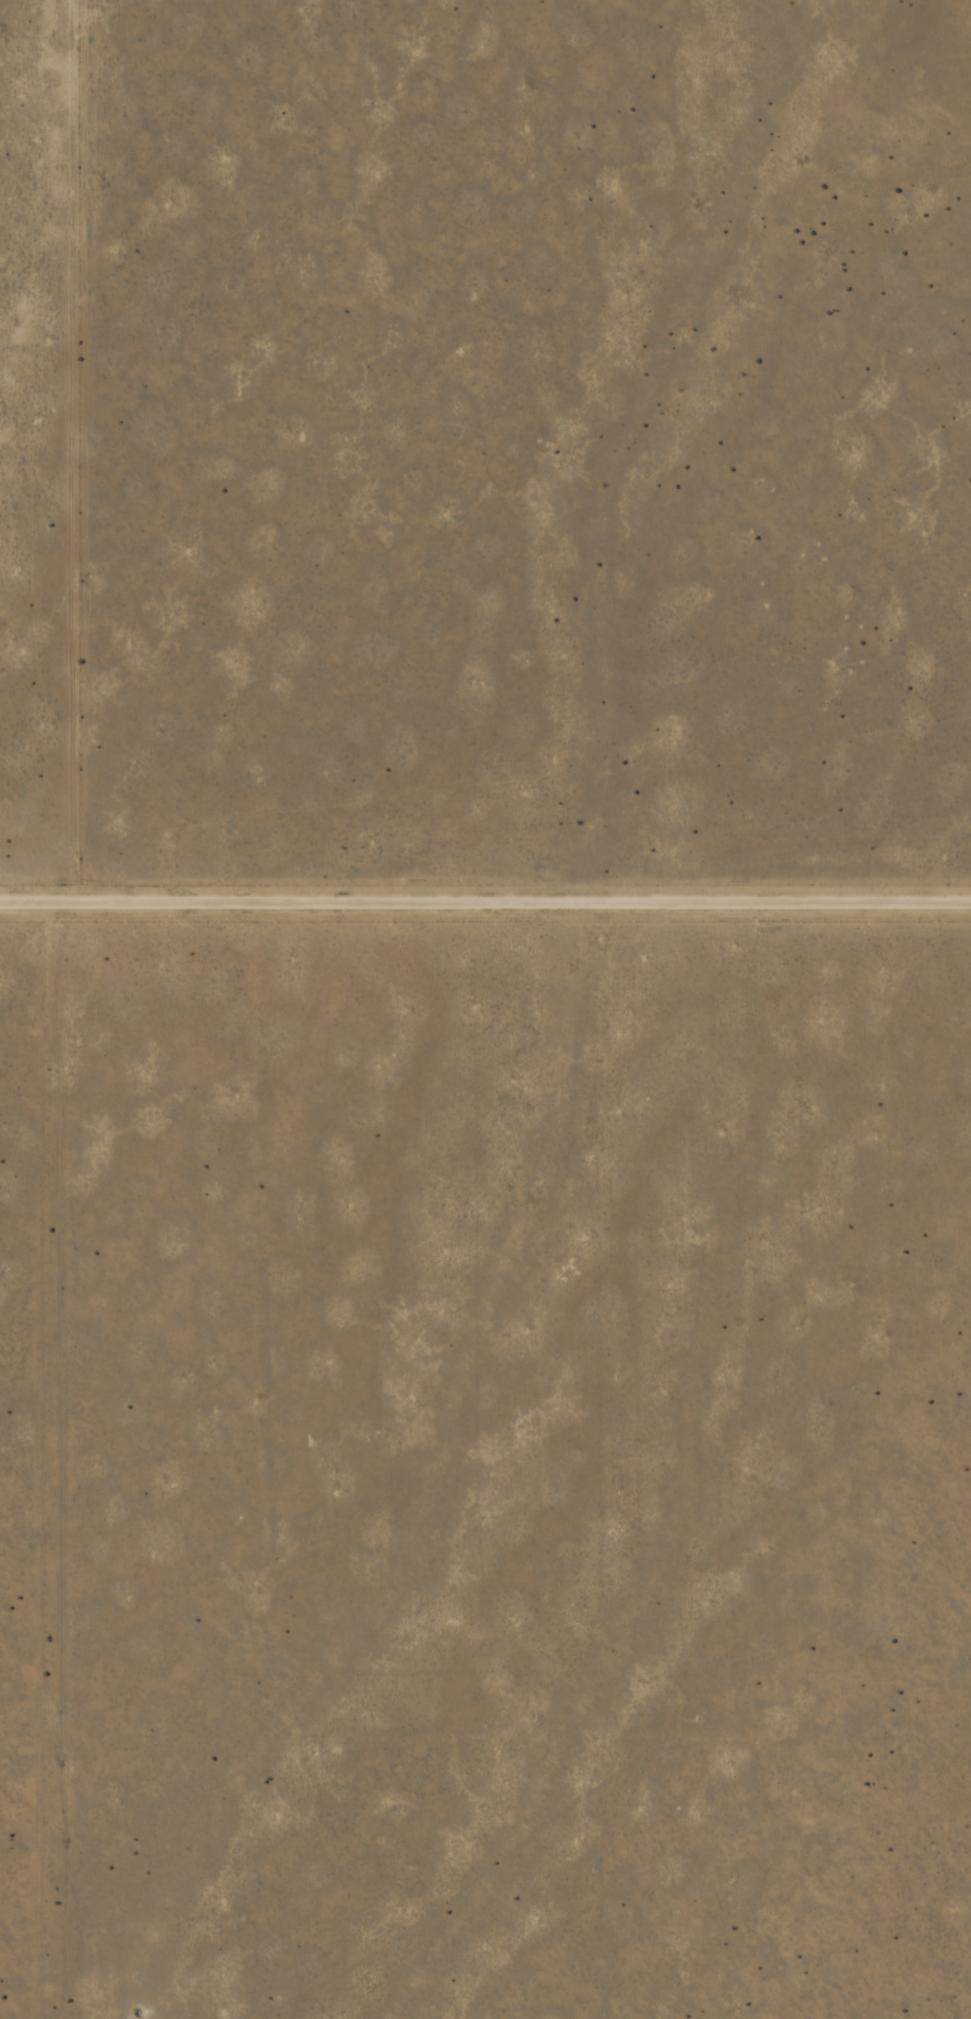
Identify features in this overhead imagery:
road: (485, 890)

